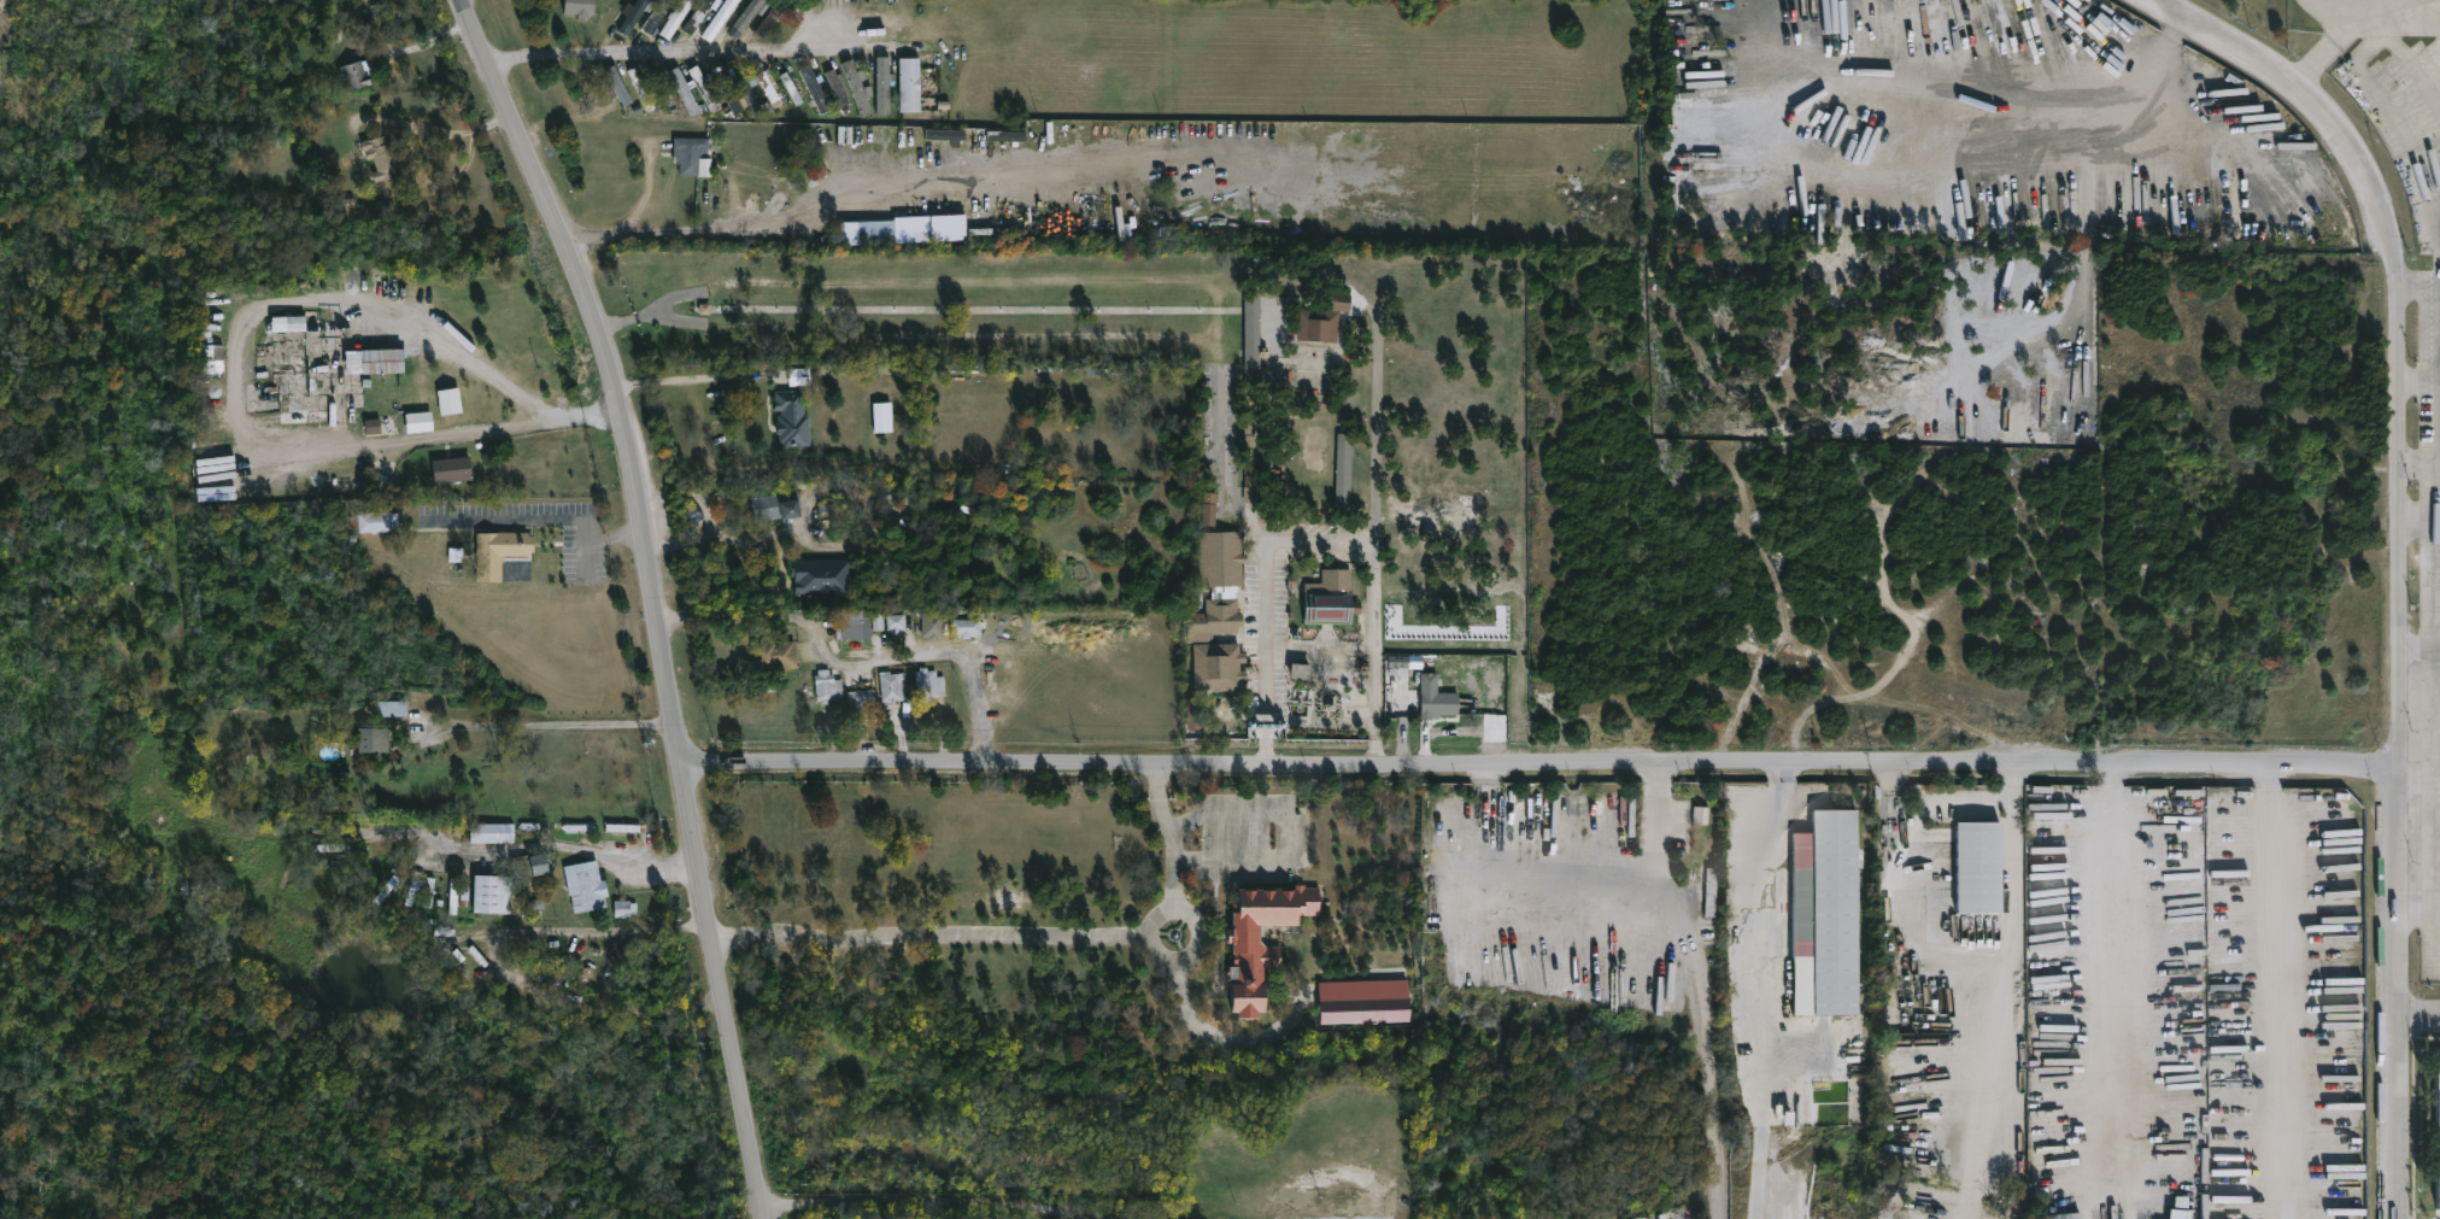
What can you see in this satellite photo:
building: (581, 7)
building: (725, 12)
building: (751, 12)
building: (633, 16)
building: (697, 16)
building: (772, 17)
building: (675, 18)
road: (669, 51)
building: (357, 74)
building: (638, 80)
building: (909, 83)
building: (617, 84)
building: (882, 84)
building: (705, 87)
building: (791, 87)
building: (838, 87)
building: (857, 87)
building: (728, 88)
building: (770, 88)
building: (816, 88)
building: (685, 89)
road: (435, 128)
building: (945, 134)
building: (1007, 135)
road: (2409, 146)
building: (691, 152)
building: (381, 156)
road: (825, 204)
building: (348, 206)
building: (902, 229)
building: (1322, 318)
road: (244, 322)
building: (294, 322)
road: (1215, 327)
building: (1251, 336)
building: (383, 359)
building: (211, 361)
road: (688, 376)
road: (1216, 393)
road: (1377, 399)
building: (450, 400)
building: (793, 417)
building: (882, 417)
building: (418, 421)
building: (373, 426)
building: (1251, 427)
road: (2420, 464)
building: (451, 469)
building: (1343, 470)
building: (775, 505)
building: (1209, 508)
building: (832, 515)
road: (2413, 518)
building: (375, 521)
road: (727, 534)
road: (1315, 539)
building: (498, 552)
road: (2400, 556)
building: (1224, 558)
building: (821, 576)
road: (653, 597)
building: (1332, 598)
building: (1224, 615)
building: (856, 623)
building: (896, 623)
building: (1195, 623)
building: (932, 625)
building: (967, 627)
road: (2415, 645)
road: (2429, 647)
building: (775, 655)
road: (862, 658)
building: (1219, 666)
building: (1298, 670)
building: (931, 684)
building: (828, 686)
building: (895, 686)
building: (1437, 697)
building: (861, 698)
building: (391, 707)
road: (547, 723)
building: (375, 739)
road: (1542, 769)
building: (492, 831)
road: (1288, 831)
road: (1167, 838)
road: (582, 849)
building: (532, 862)
building: (1983, 863)
building: (586, 885)
building: (1713, 890)
building: (429, 891)
building: (492, 892)
building: (457, 893)
building: (624, 908)
building: (1830, 913)
road: (1914, 915)
road: (1759, 921)
road: (591, 930)
road: (928, 933)
building: (1263, 938)
road: (1193, 951)
road: (2011, 962)
road: (2115, 980)
road: (2276, 995)
building: (1363, 1001)
road: (2422, 1020)
road: (1215, 1036)
building: (2434, 1130)
road: (1760, 1158)
road: (939, 1194)

